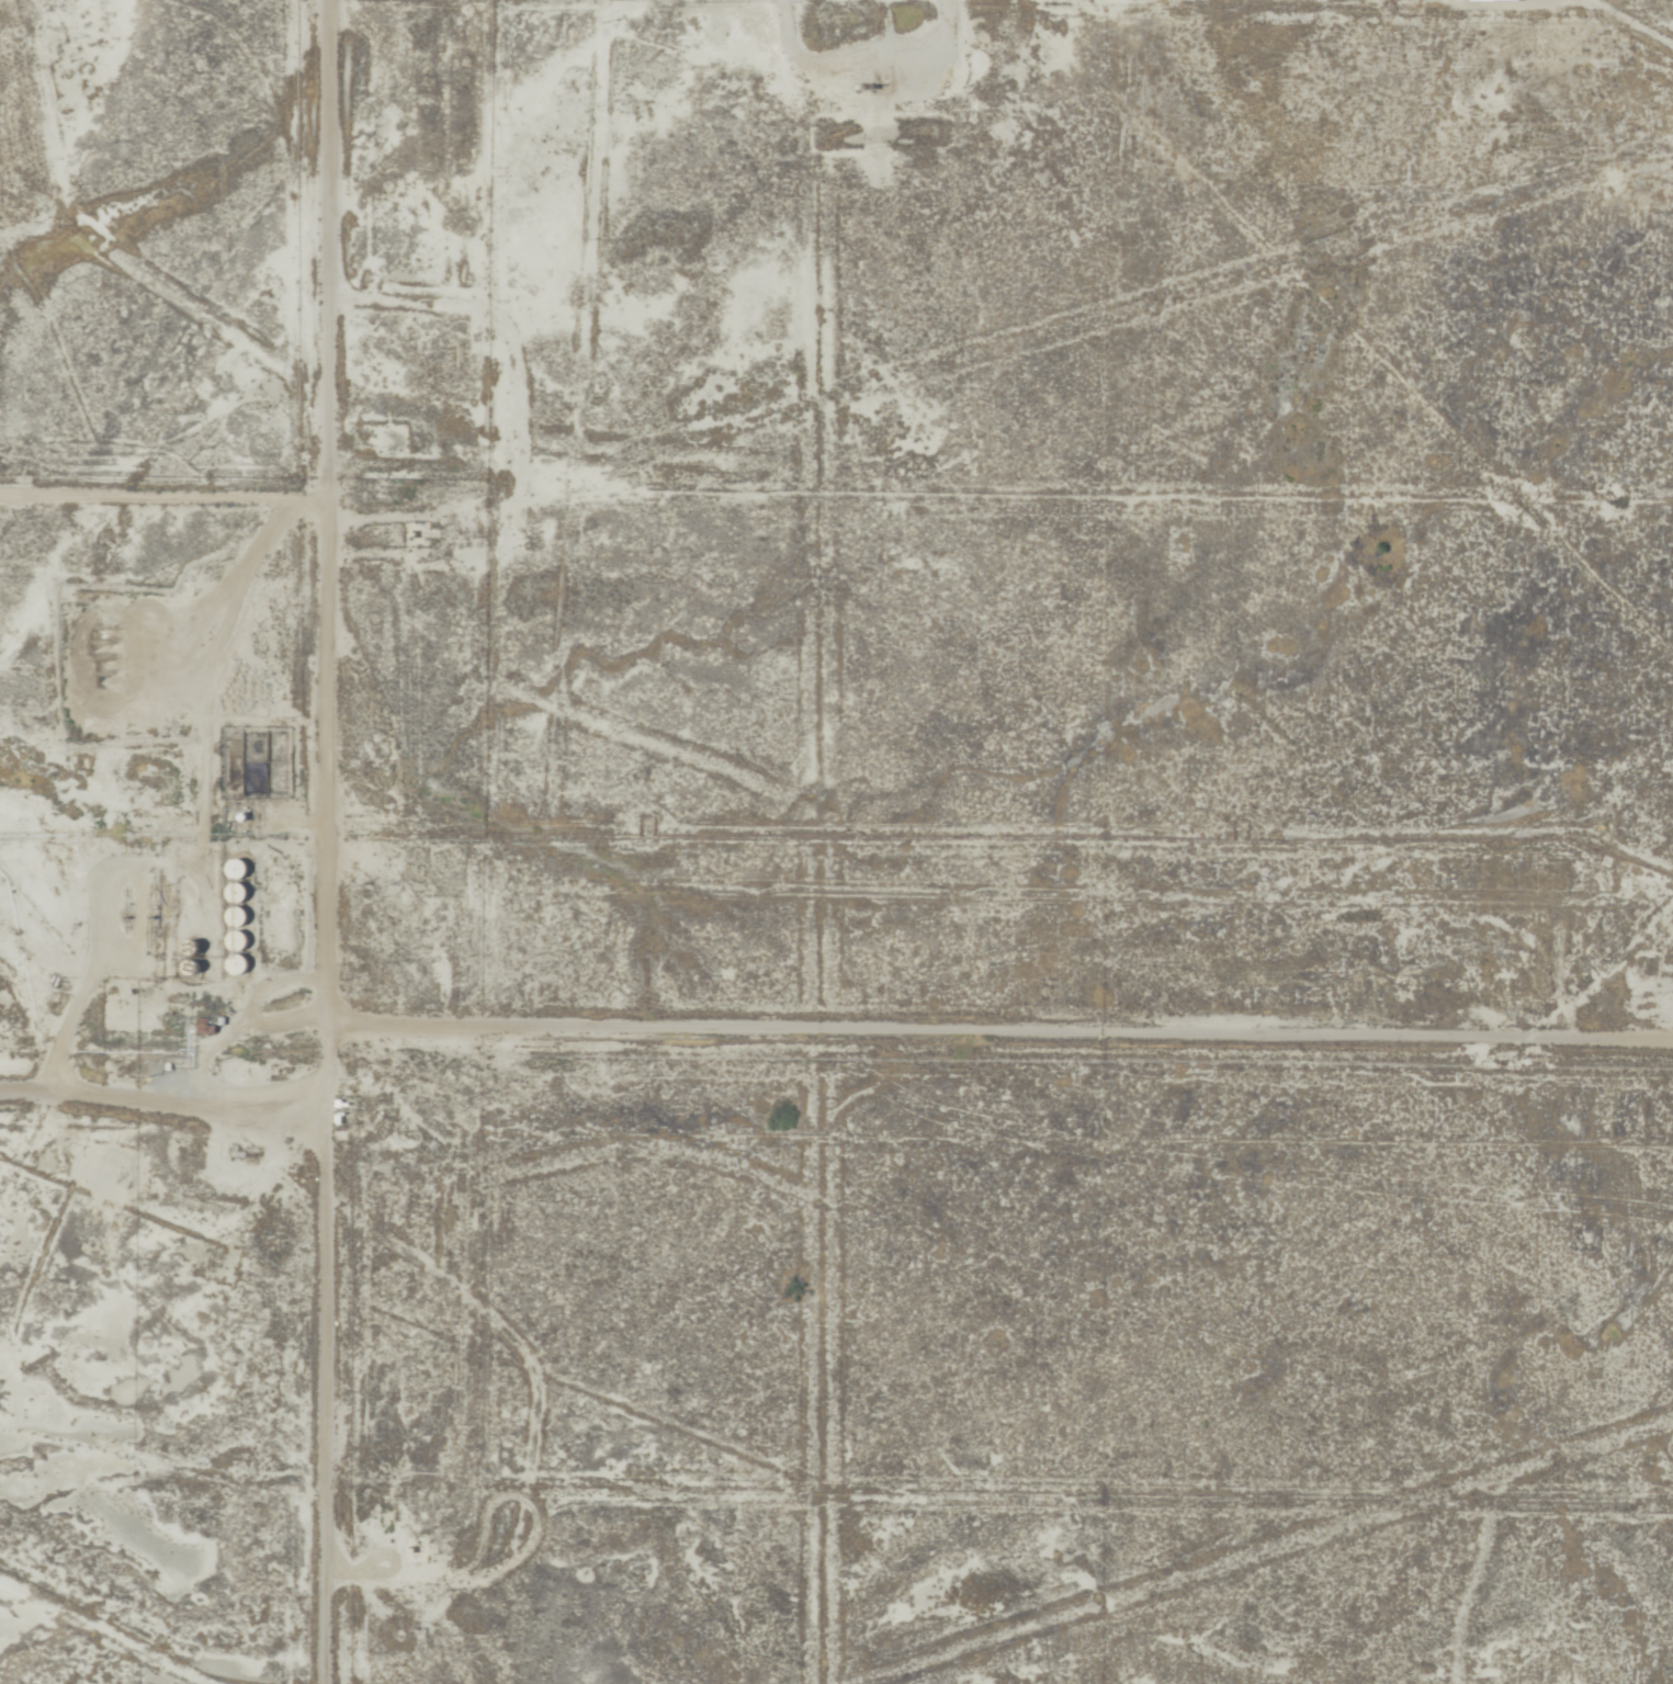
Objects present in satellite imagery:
road: (323, 841)
building: (236, 871)
building: (235, 894)
building: (235, 917)
building: (235, 942)
building: (235, 967)
building: (203, 1025)
road: (996, 1044)
road: (157, 1103)
building: (351, 1106)

